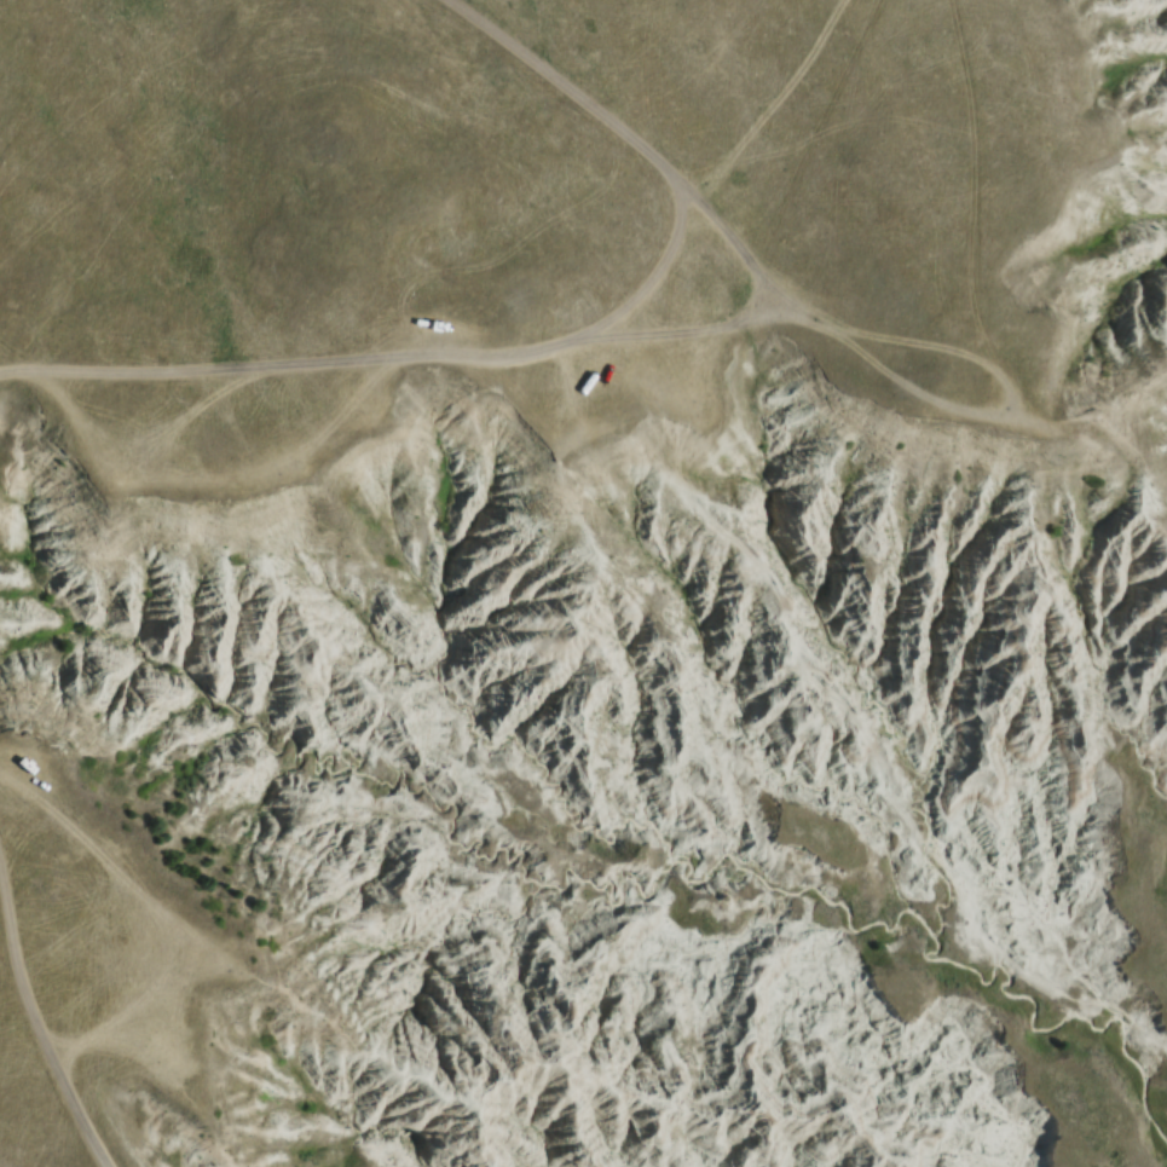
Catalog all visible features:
road: (623, 148)
road: (682, 336)
road: (40, 1047)

